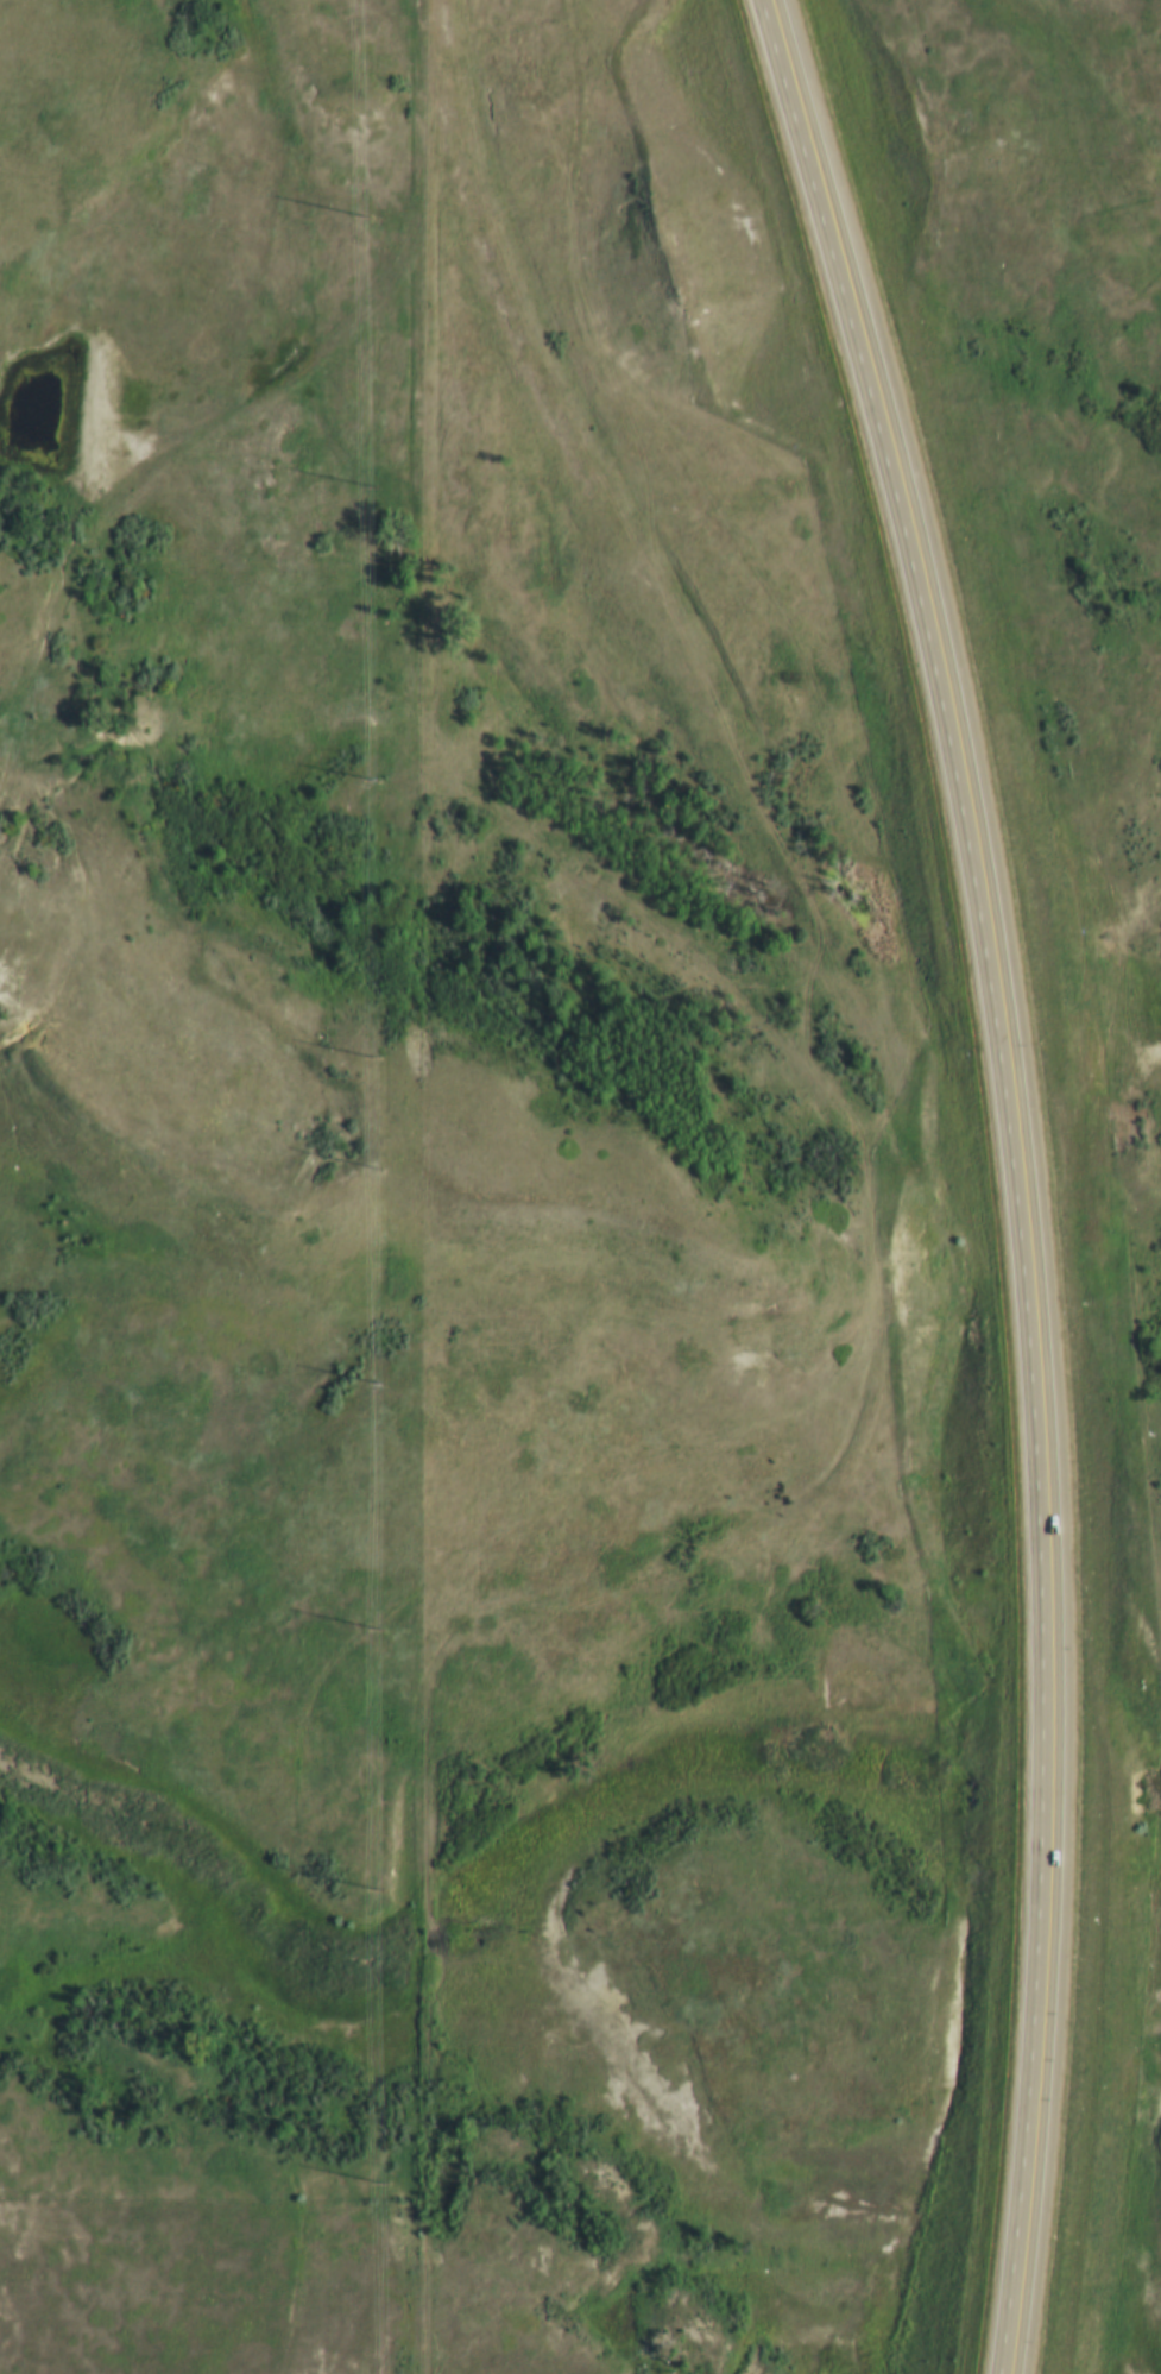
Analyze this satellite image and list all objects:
road: (1031, 1173)

